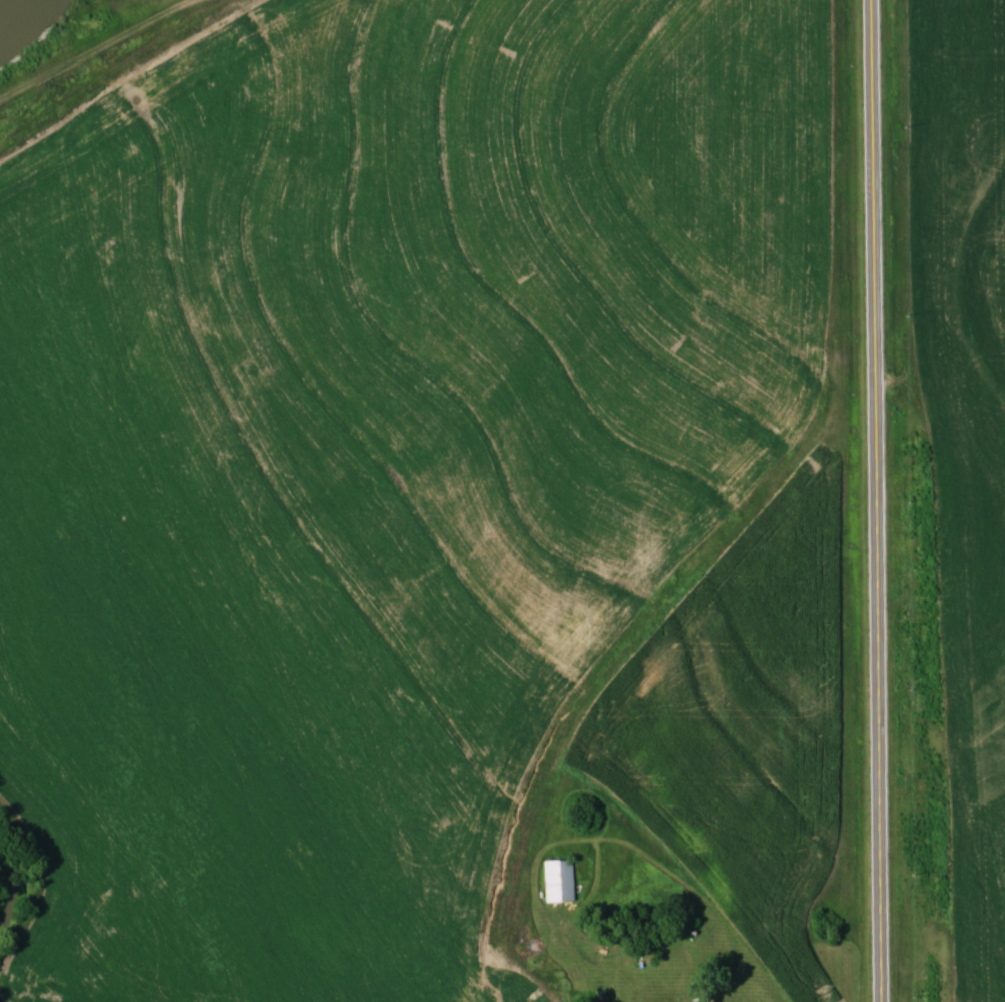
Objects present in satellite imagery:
dam: (92, 48)
road: (877, 500)

